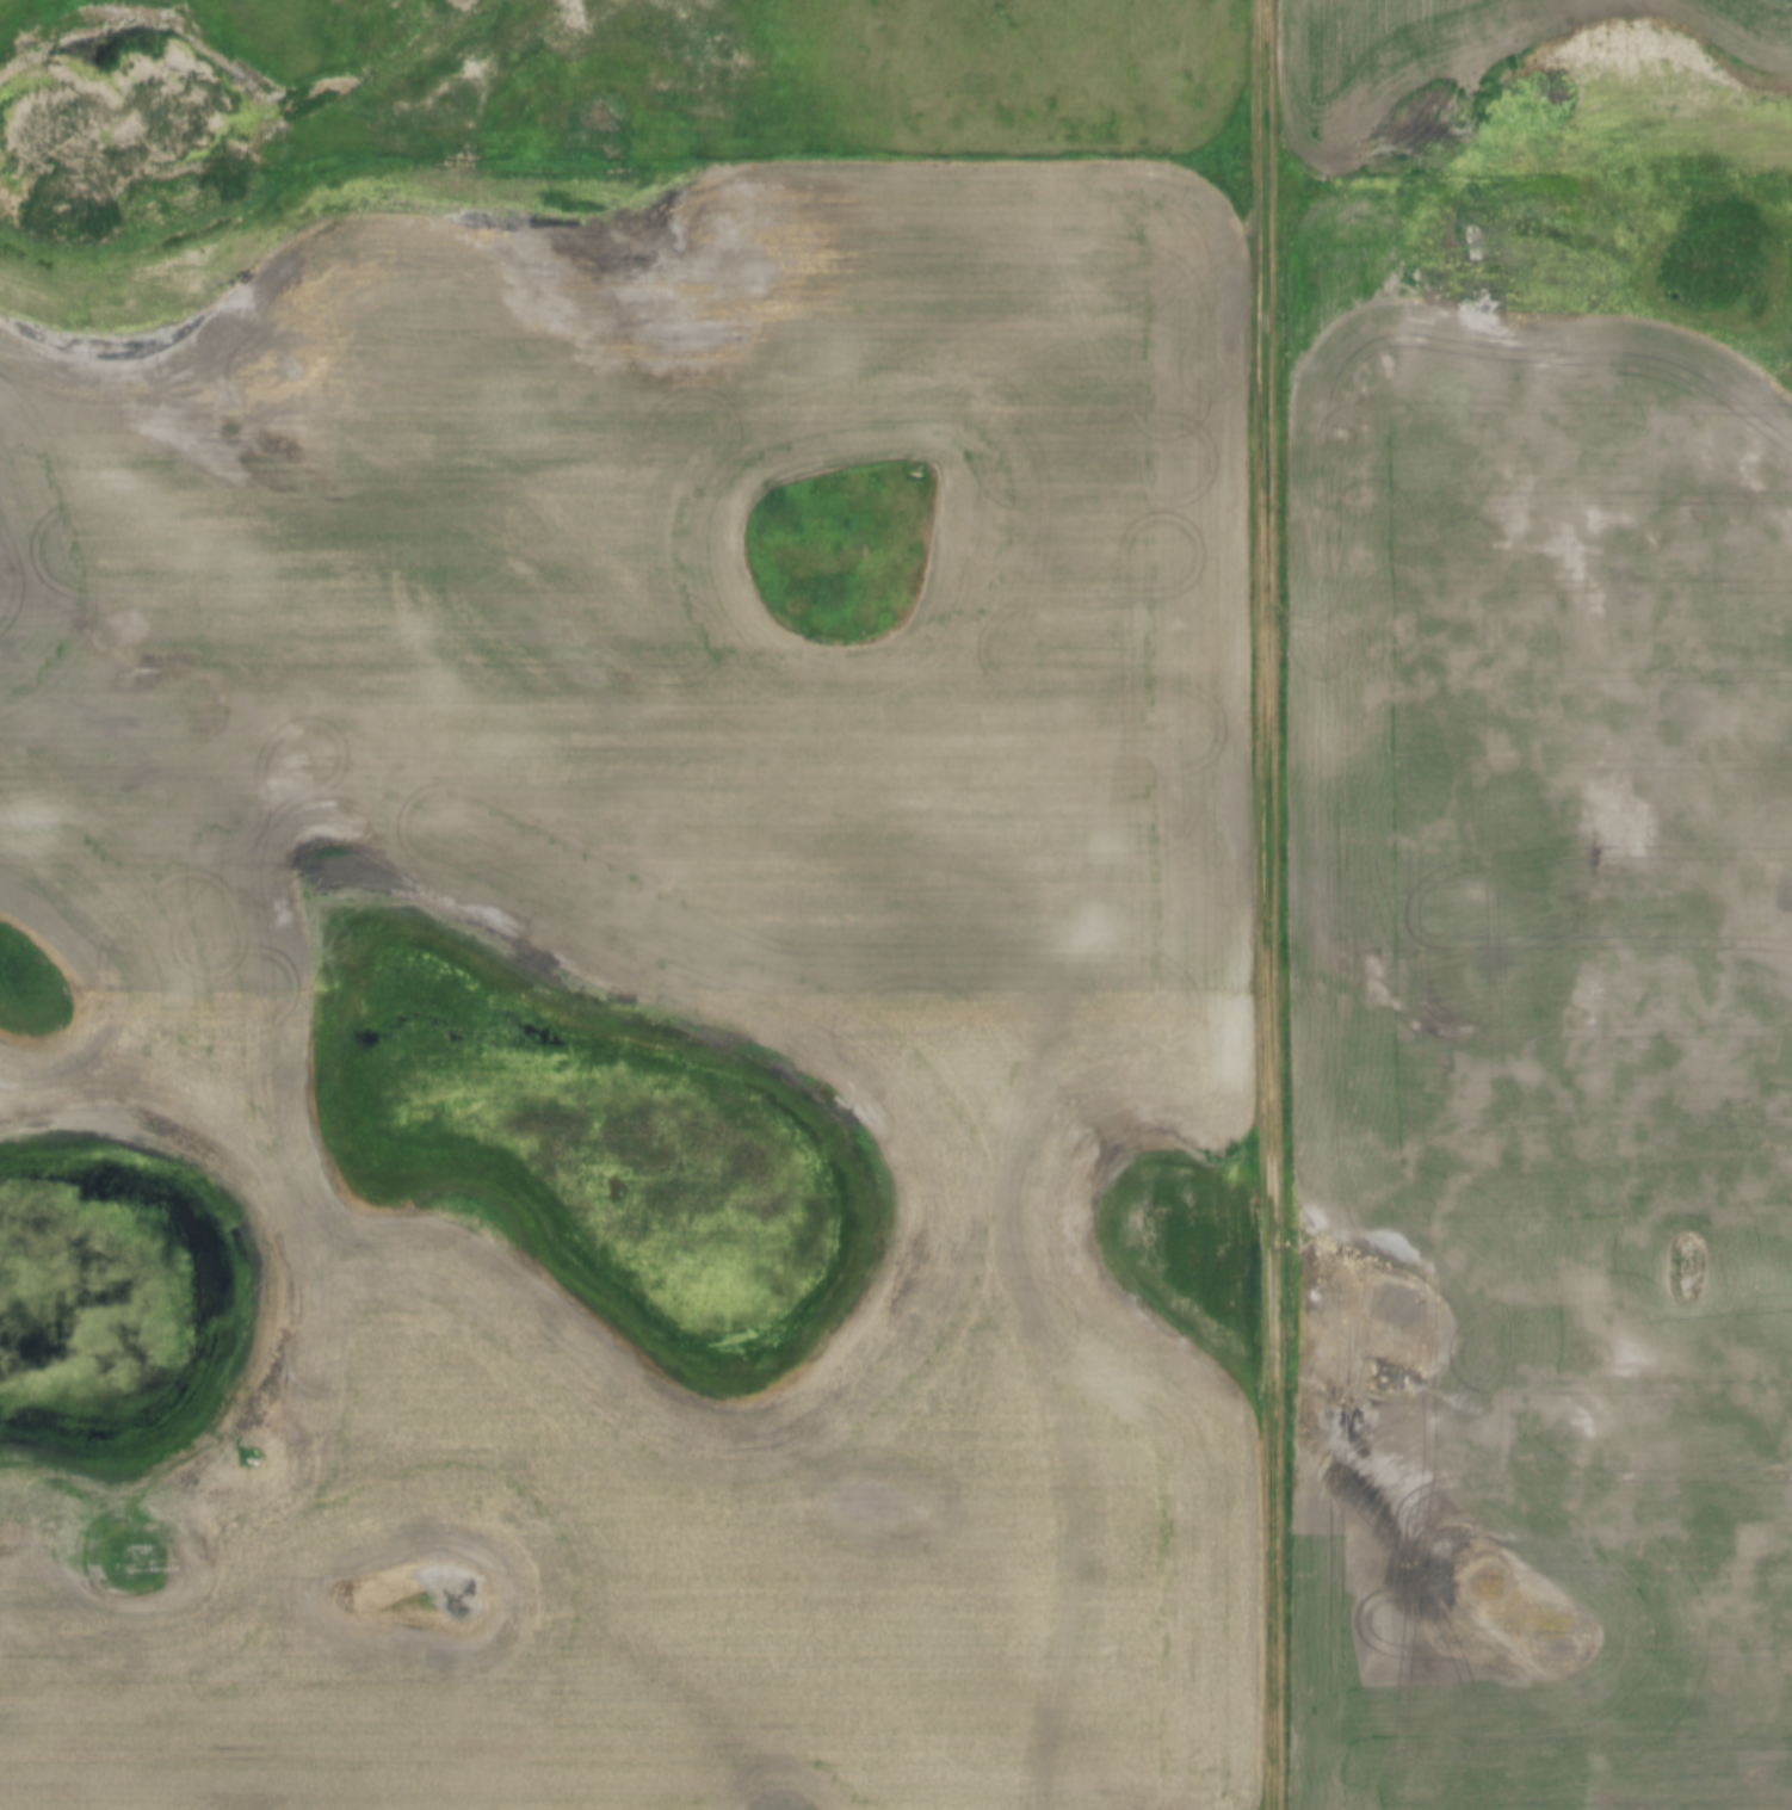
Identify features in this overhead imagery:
road: (1266, 904)

